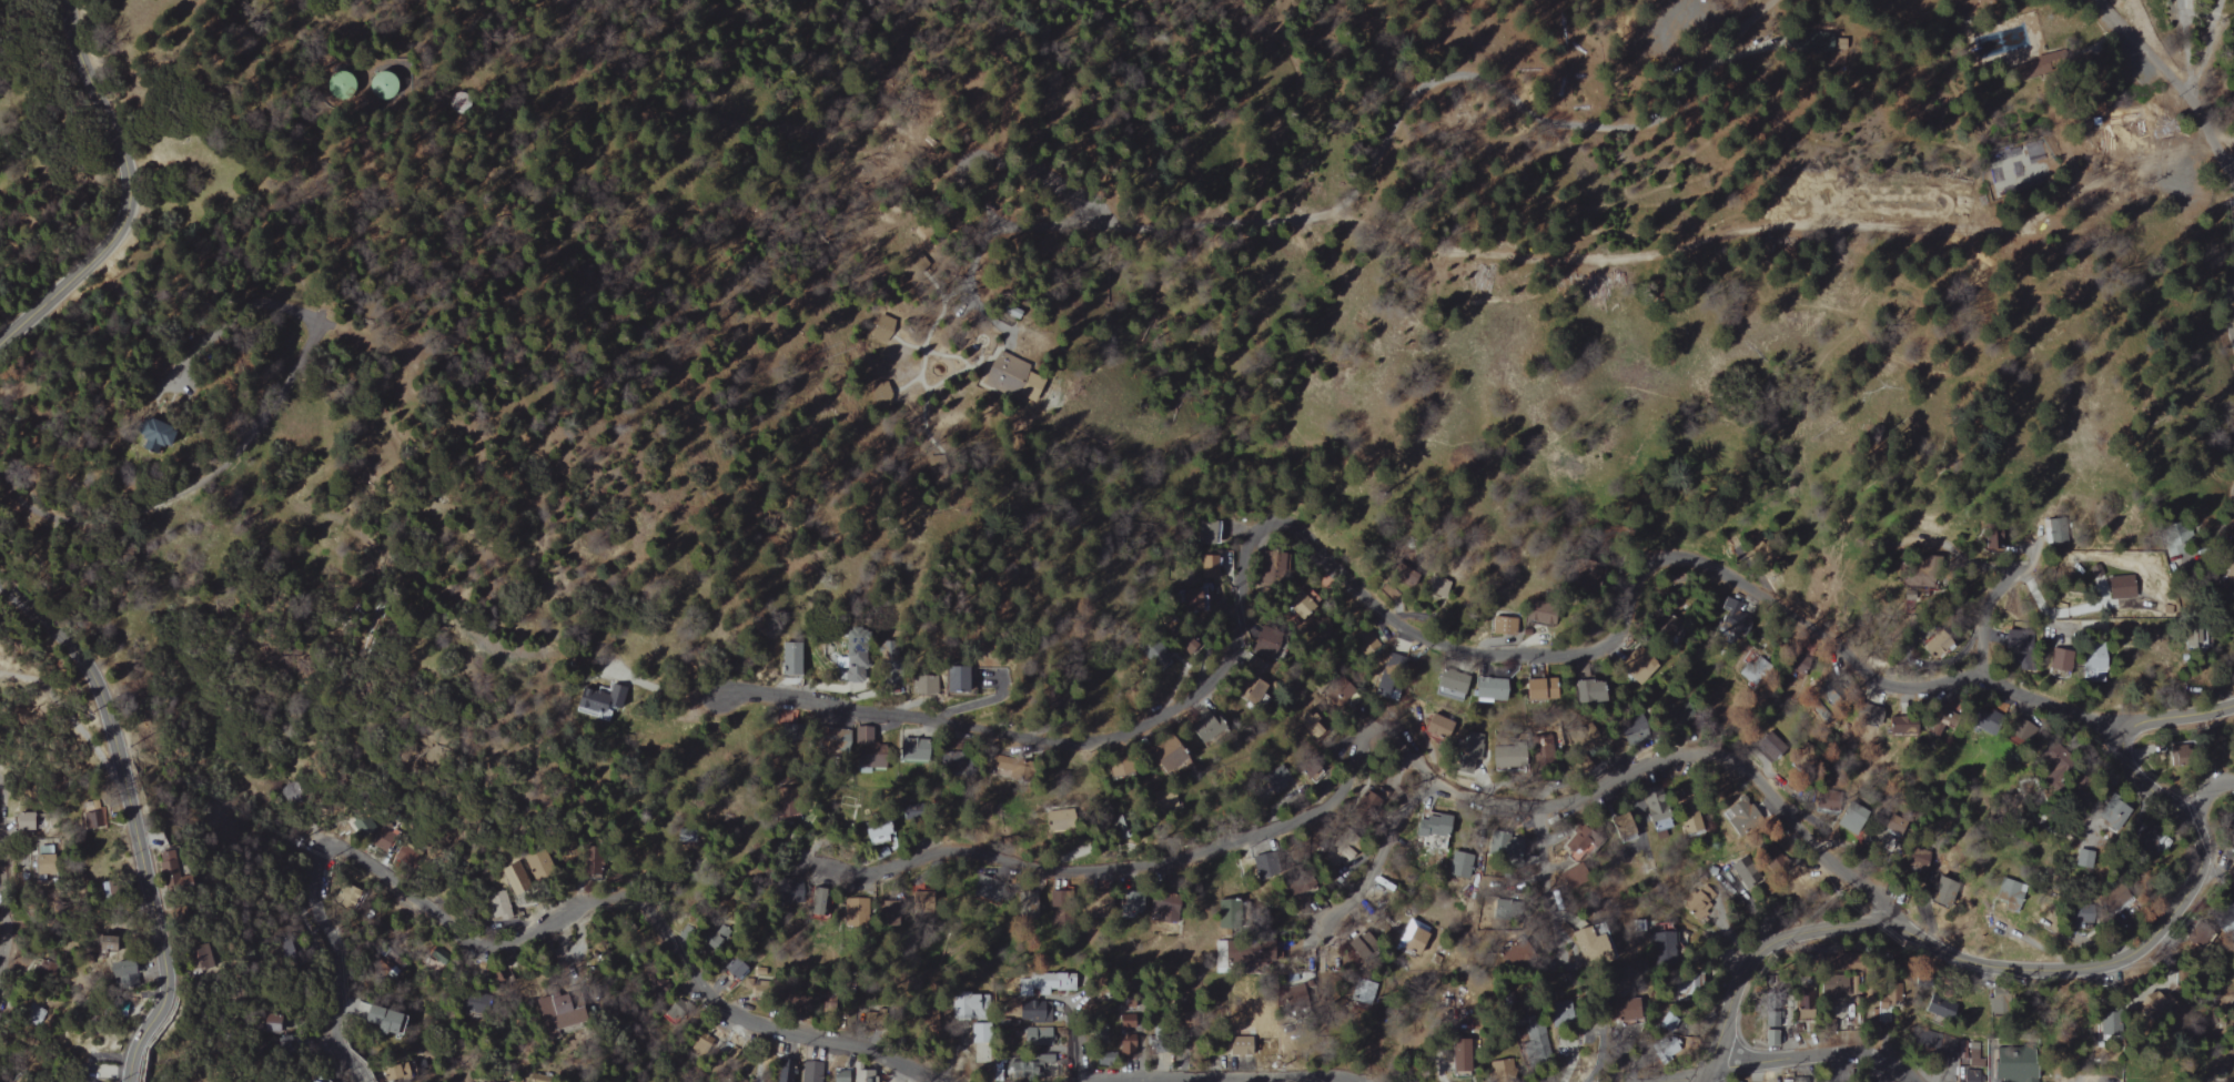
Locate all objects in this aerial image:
parking lot: (1672, 23)
building: (1806, 44)
building: (1991, 44)
road: (1439, 80)
road: (2167, 81)
building: (391, 87)
building: (458, 103)
building: (2034, 162)
parking lot: (2169, 176)
road: (953, 180)
parking lot: (1071, 182)
road: (2144, 183)
road: (130, 199)
road: (1690, 227)
road: (2231, 305)
building: (881, 327)
road: (1007, 344)
building: (1009, 376)
road: (263, 418)
building: (175, 434)
building: (1222, 530)
building: (2050, 533)
building: (1989, 537)
building: (1212, 567)
building: (1272, 568)
building: (1442, 587)
building: (2117, 587)
building: (1192, 600)
road: (1991, 603)
building: (1303, 607)
road: (1391, 616)
building: (1731, 617)
building: (1503, 627)
building: (1369, 641)
building: (2015, 641)
building: (1928, 645)
building: (853, 650)
building: (1166, 655)
building: (792, 657)
building: (886, 658)
building: (2054, 660)
building: (1638, 663)
building: (2093, 663)
building: (1257, 669)
building: (952, 678)
building: (924, 684)
building: (1446, 684)
building: (1382, 689)
building: (1538, 689)
building: (1487, 690)
building: (1588, 690)
building: (597, 701)
road: (2176, 716)
road: (1379, 720)
building: (1205, 724)
building: (1433, 726)
building: (827, 742)
building: (911, 751)
building: (1467, 752)
building: (1170, 755)
building: (868, 758)
building: (1512, 760)
building: (1583, 765)
building: (1317, 767)
road: (2134, 778)
road: (2205, 791)
building: (292, 793)
building: (1743, 813)
road: (133, 816)
building: (2106, 816)
building: (91, 820)
building: (1851, 820)
building: (26, 821)
building: (1658, 821)
building: (1691, 821)
building: (1899, 823)
building: (1429, 826)
building: (1623, 829)
building: (878, 831)
building: (386, 841)
building: (1566, 842)
building: (2141, 842)
building: (1505, 848)
road: (1383, 853)
road: (1, 856)
building: (408, 857)
building: (48, 860)
building: (1258, 866)
building: (1457, 867)
building: (180, 869)
building: (540, 869)
building: (516, 879)
building: (2233, 881)
road: (1548, 887)
building: (113, 890)
building: (823, 901)
building: (2010, 903)
building: (497, 907)
building: (1096, 907)
building: (1699, 908)
building: (857, 911)
building: (1412, 937)
road: (519, 941)
building: (119, 943)
building: (1665, 947)
building: (1587, 953)
road: (1958, 953)
building: (1244, 954)
building: (730, 972)
building: (134, 974)
building: (1042, 983)
building: (1367, 992)
building: (2152, 1003)
building: (565, 1011)
building: (36, 1014)
building: (385, 1021)
building: (267, 1025)
building: (938, 1025)
building: (1770, 1029)
building: (1101, 1032)
building: (1035, 1037)
road: (1073, 1041)
building: (704, 1043)
building: (1533, 1044)
road: (1795, 1055)
building: (1452, 1061)
building: (1969, 1061)
building: (2015, 1068)
building: (787, 1069)
building: (809, 1071)
building: (394, 1073)
road: (1196, 1076)
building: (538, 1079)
building: (866, 1079)
building: (314, 1080)
road: (1074, 1080)

